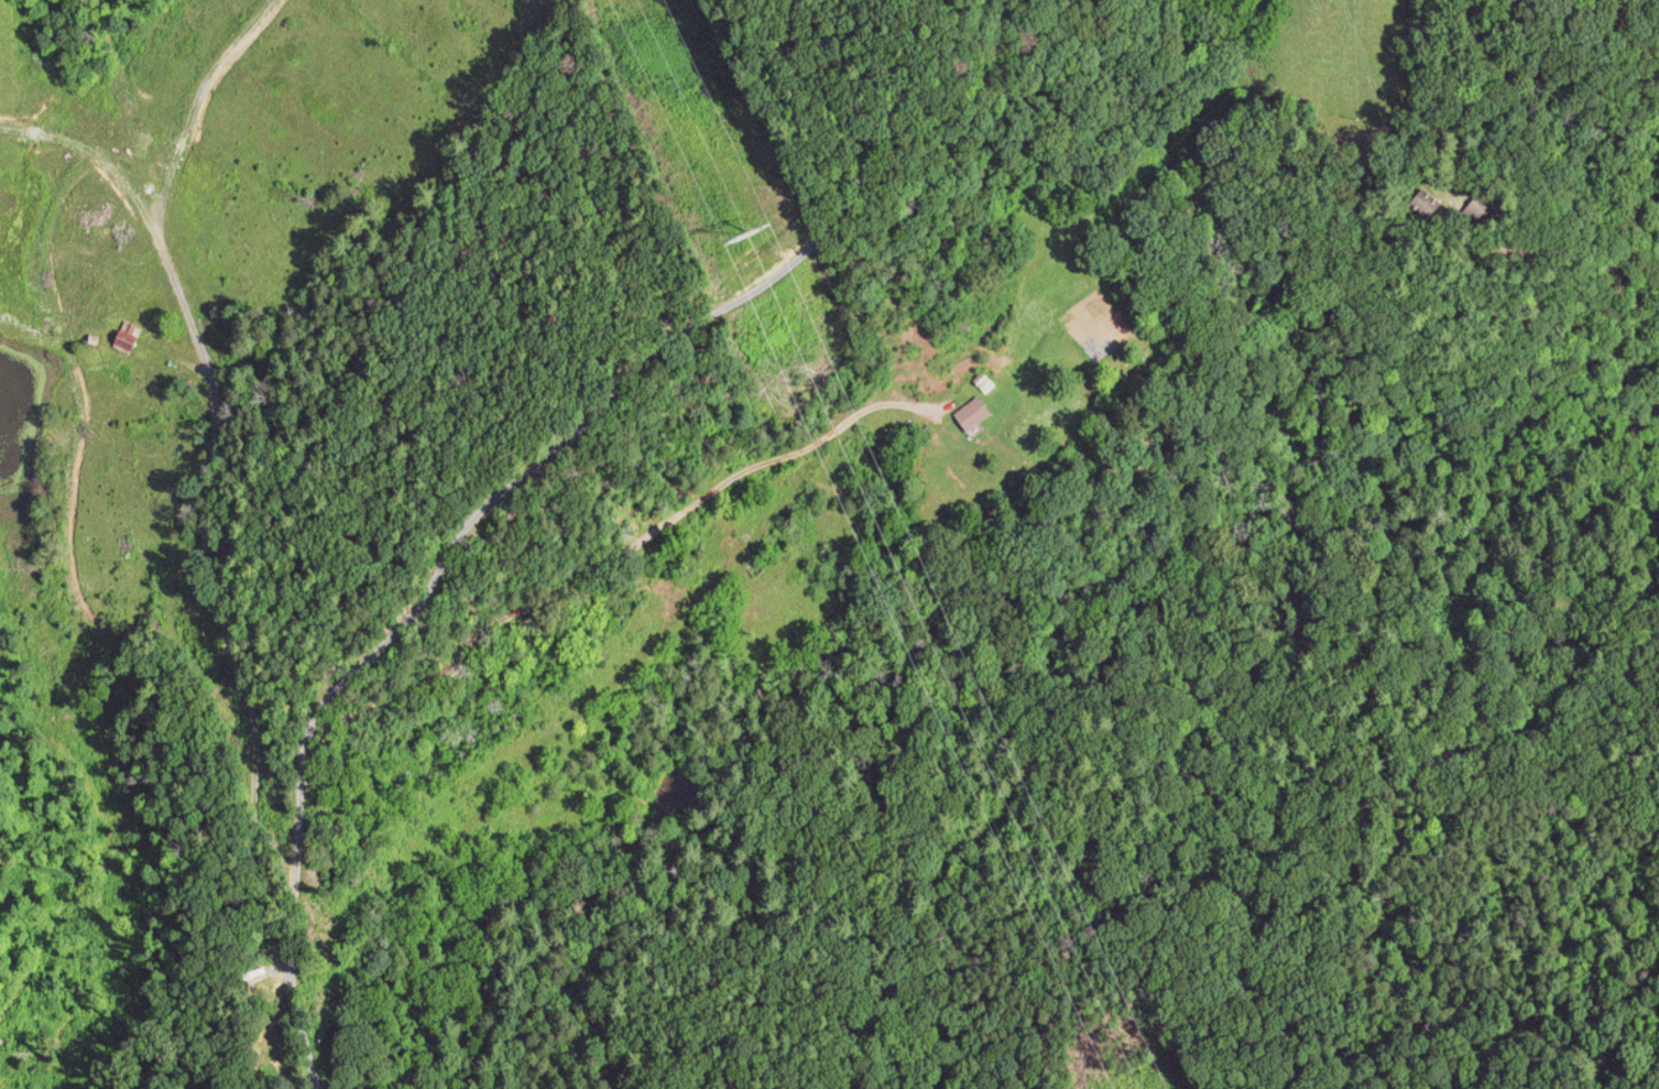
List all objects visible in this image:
power tower: (767, 231)
building: (124, 339)
building: (971, 417)
road: (488, 458)
road: (204, 582)
road: (536, 620)

